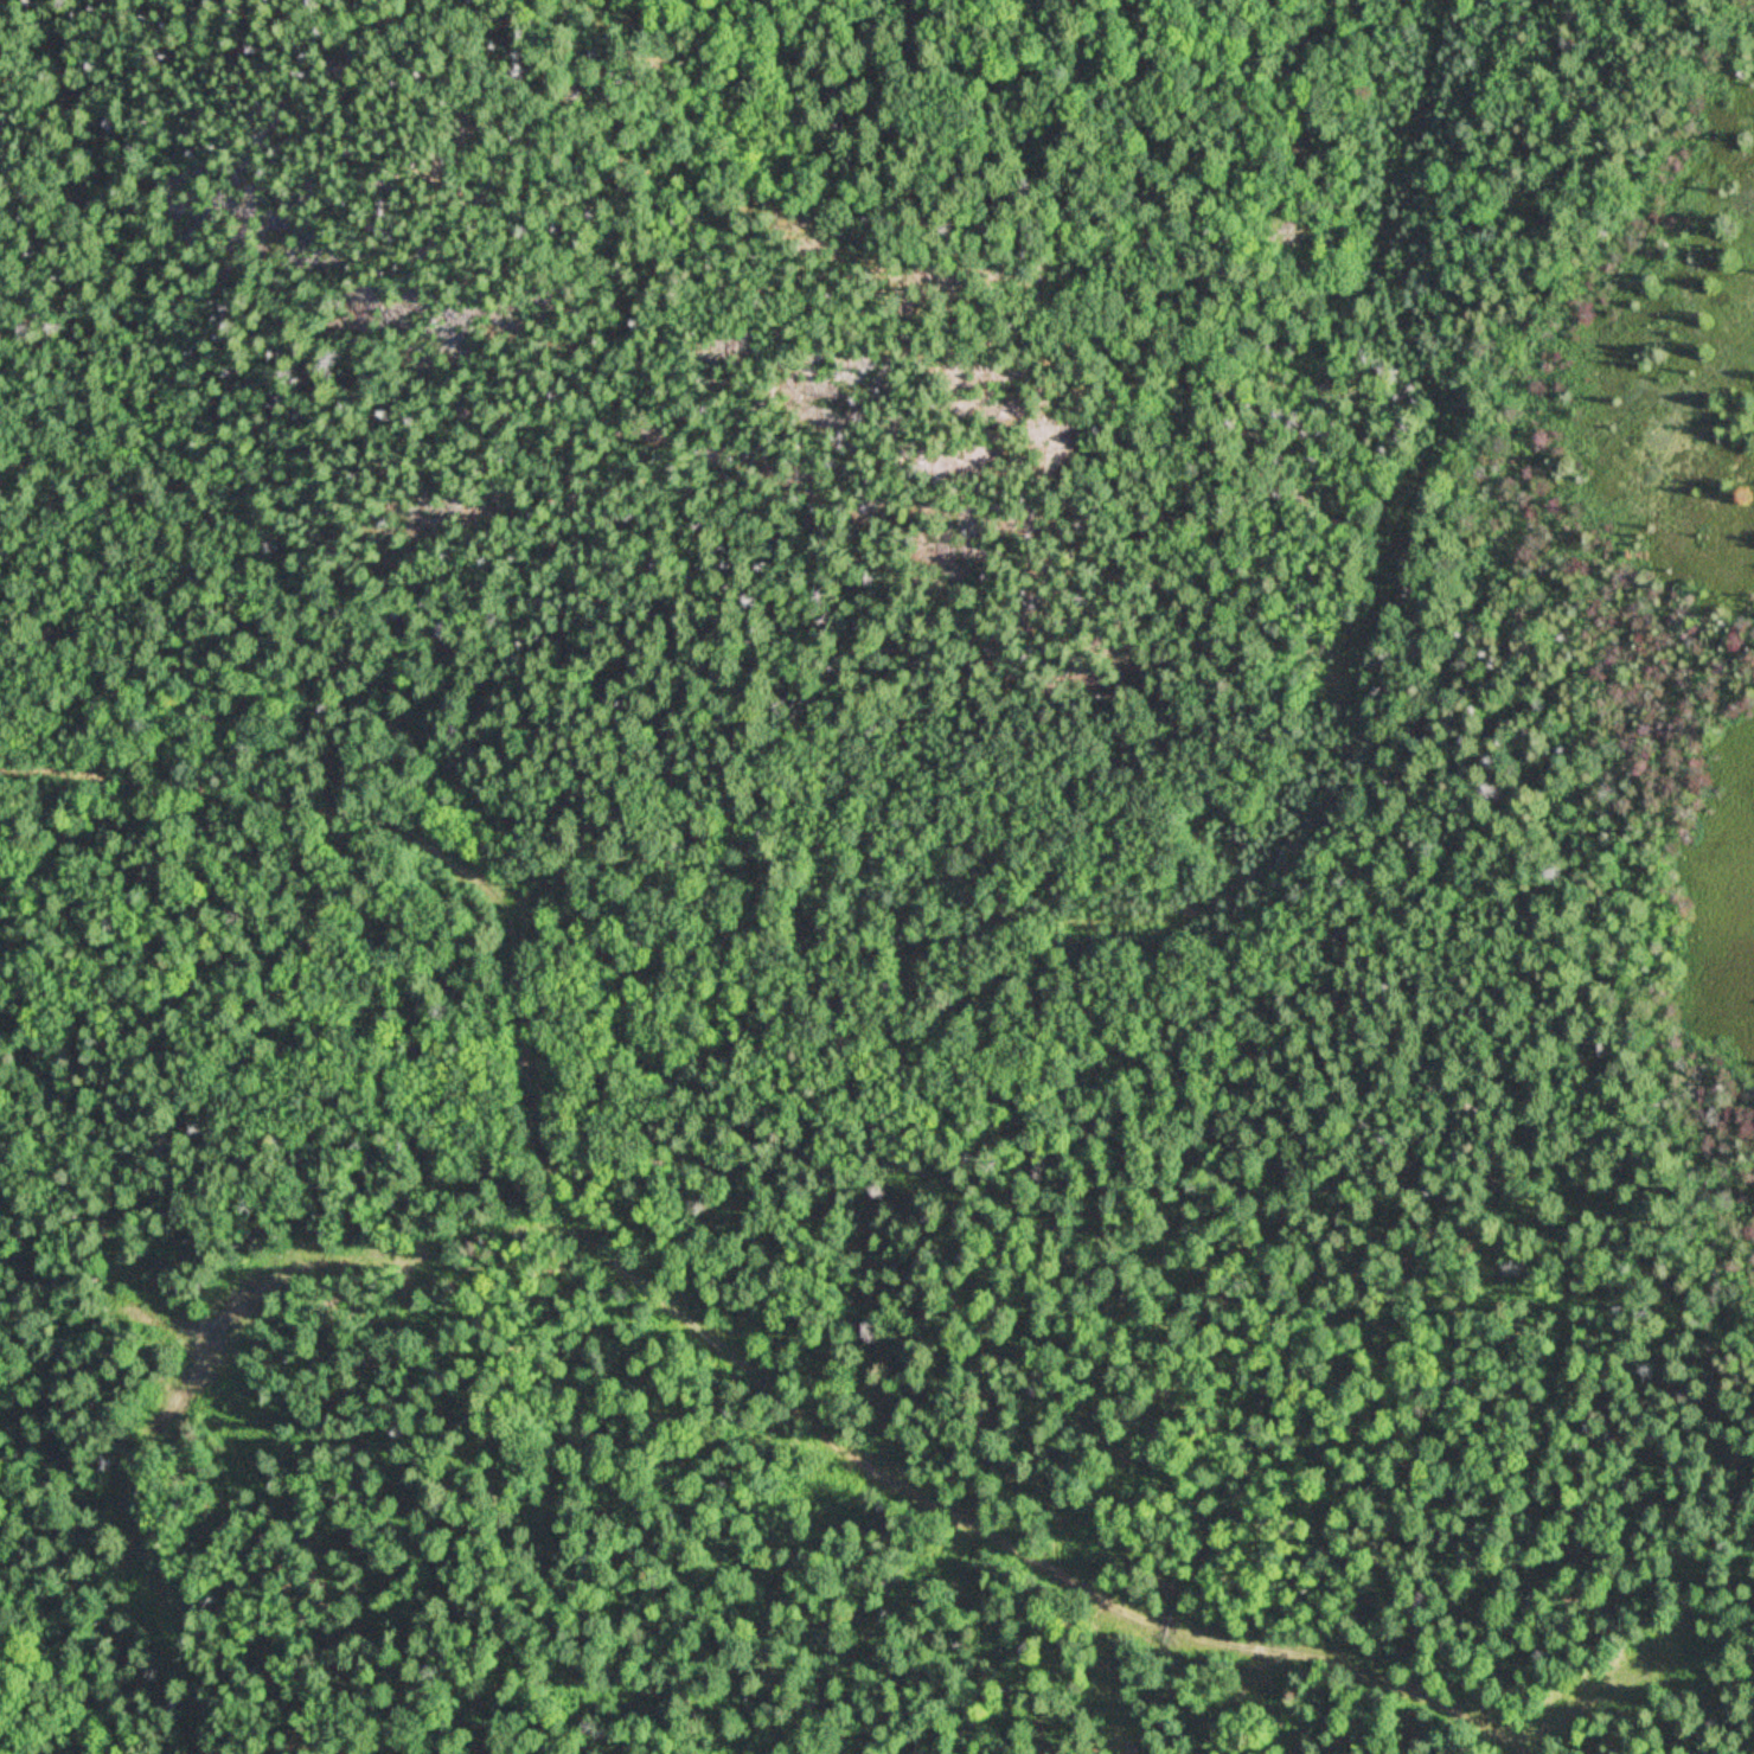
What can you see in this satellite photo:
road: (1278, 818)
road: (694, 1244)

